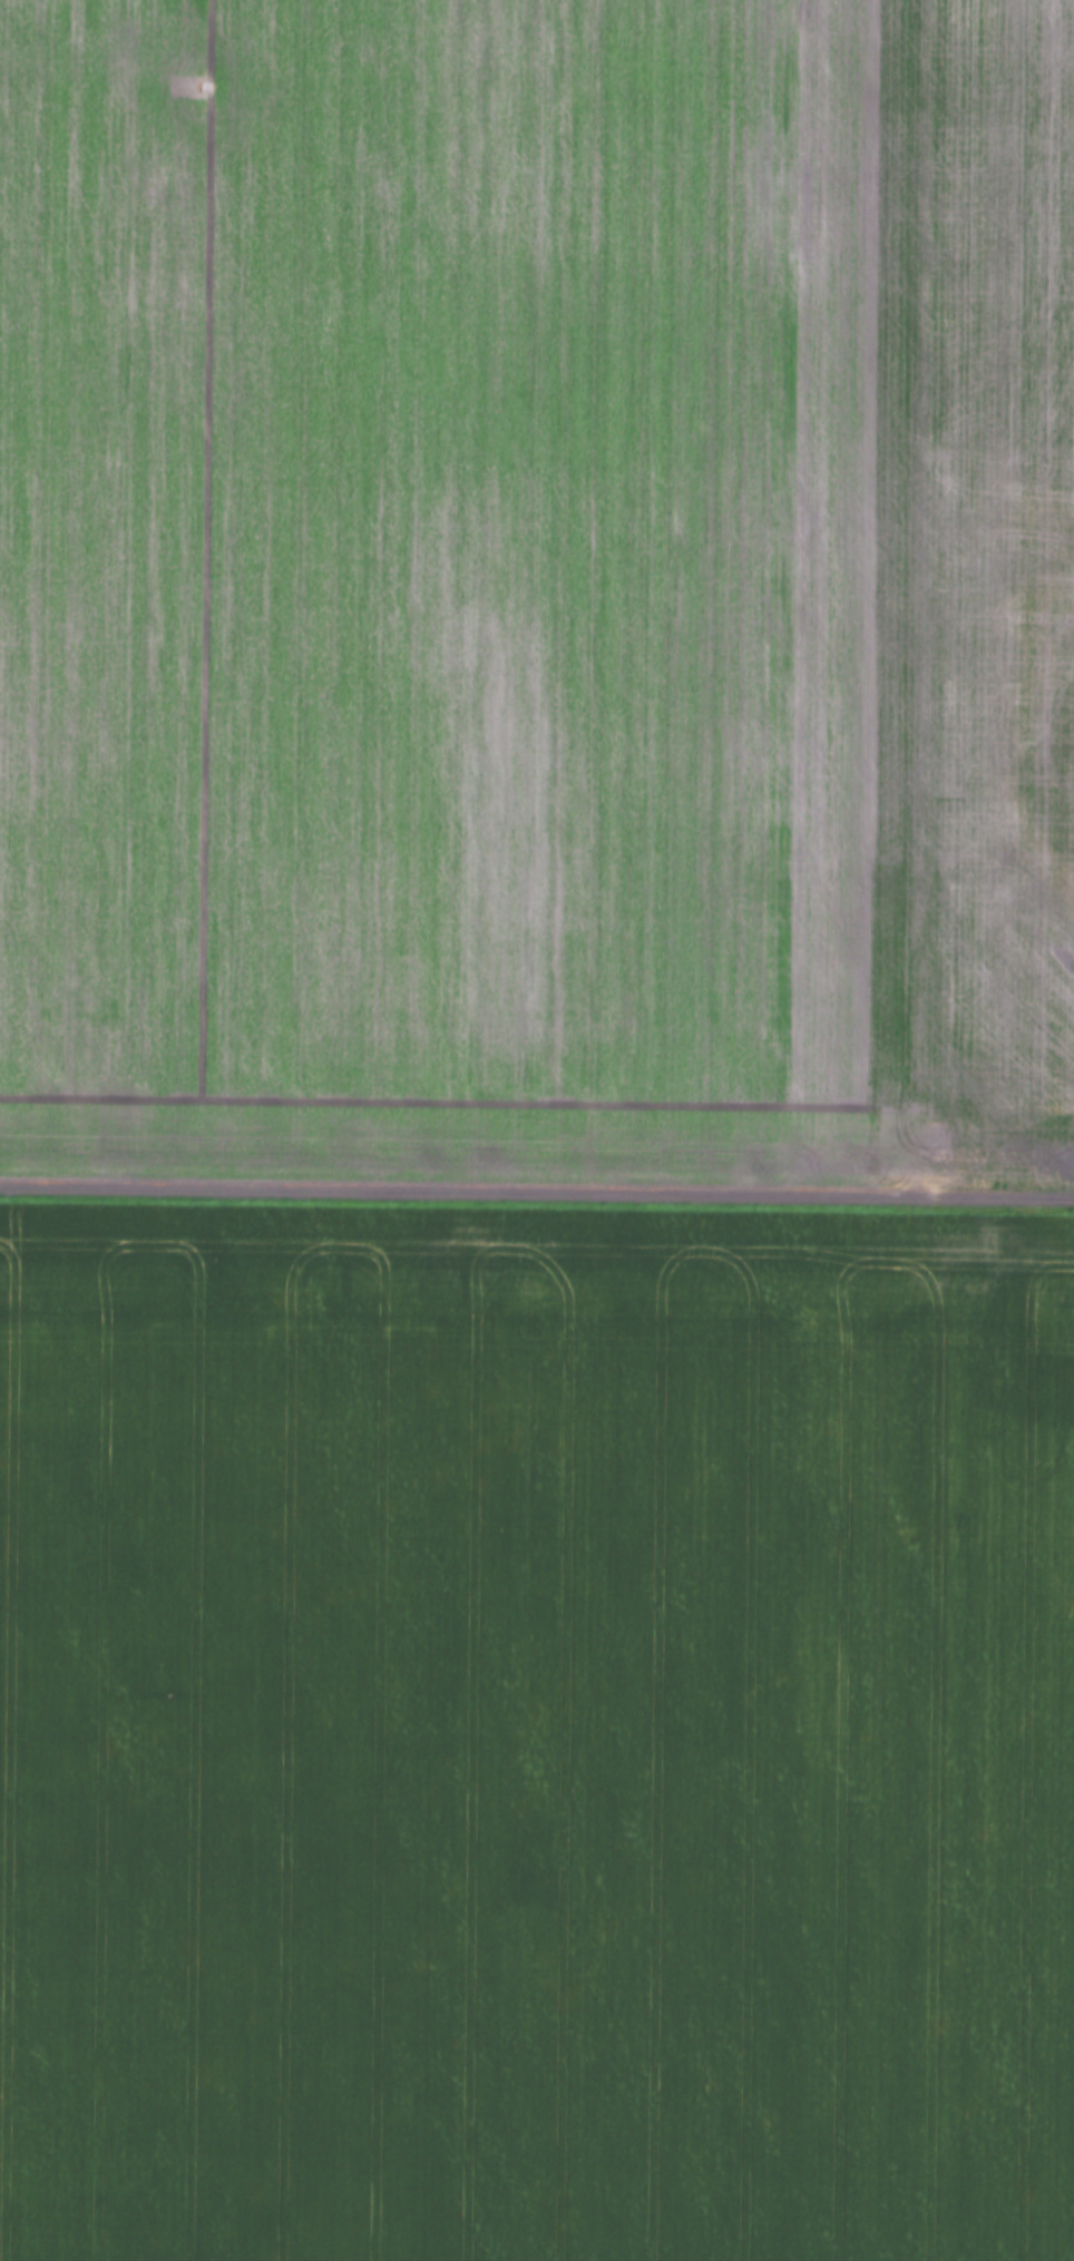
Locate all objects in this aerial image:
road: (537, 1192)

